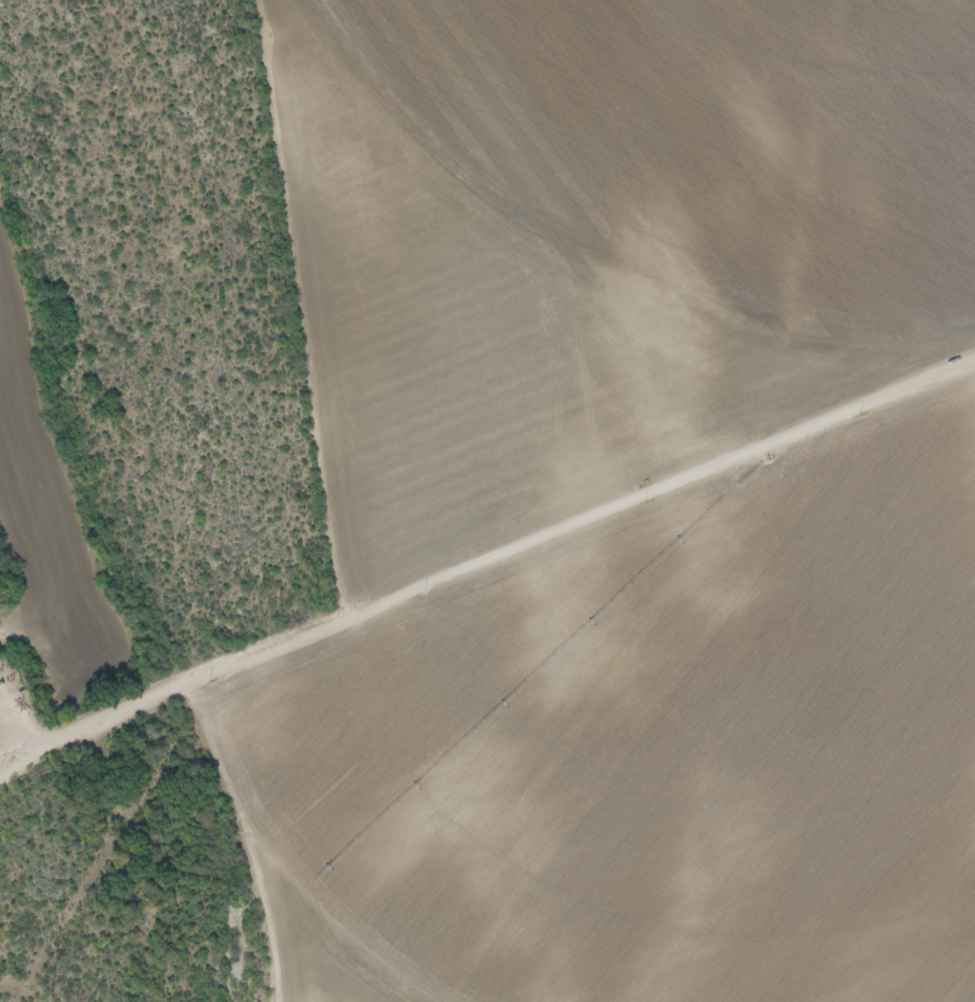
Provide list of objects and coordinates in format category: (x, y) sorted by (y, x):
road: (482, 564)

